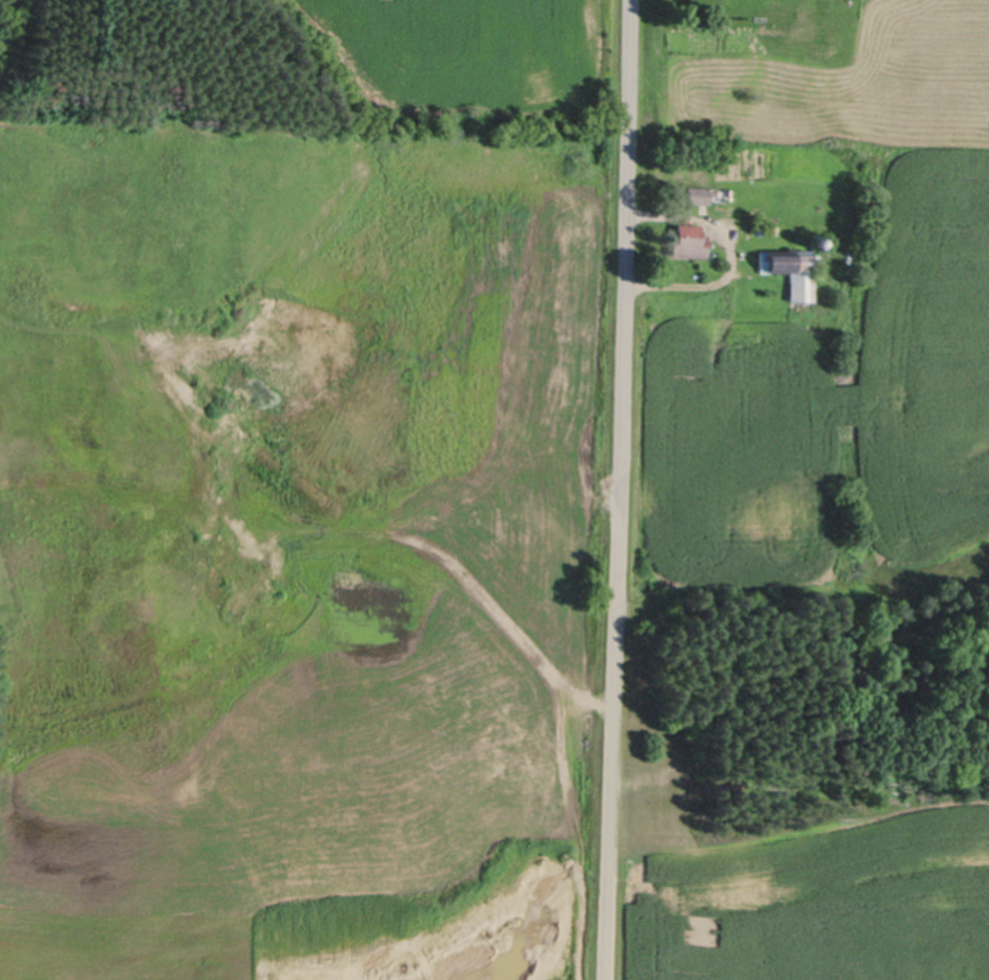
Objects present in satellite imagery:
building: (698, 195)
building: (758, 228)
building: (815, 240)
building: (688, 243)
building: (793, 271)
quarry: (111, 366)
road: (357, 433)
road: (620, 490)

